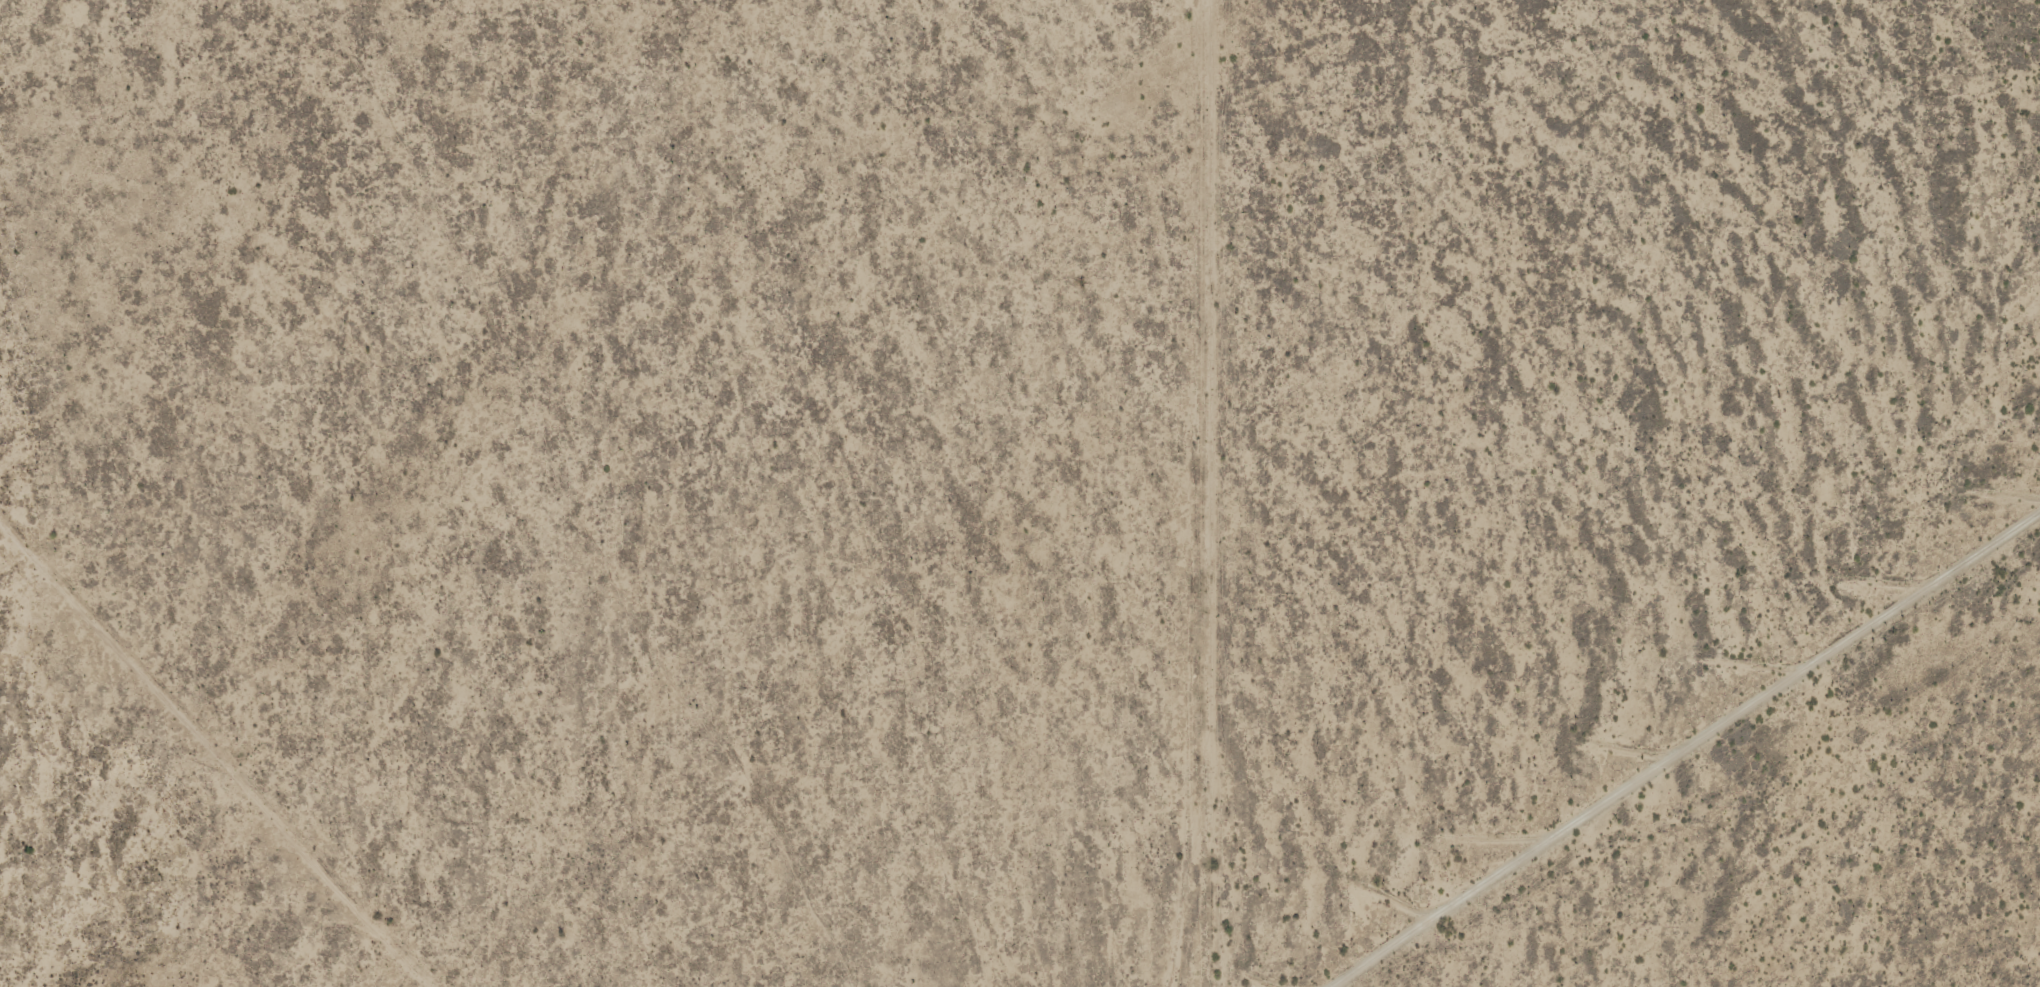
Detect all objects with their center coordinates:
road: (1688, 761)
road: (196, 773)

